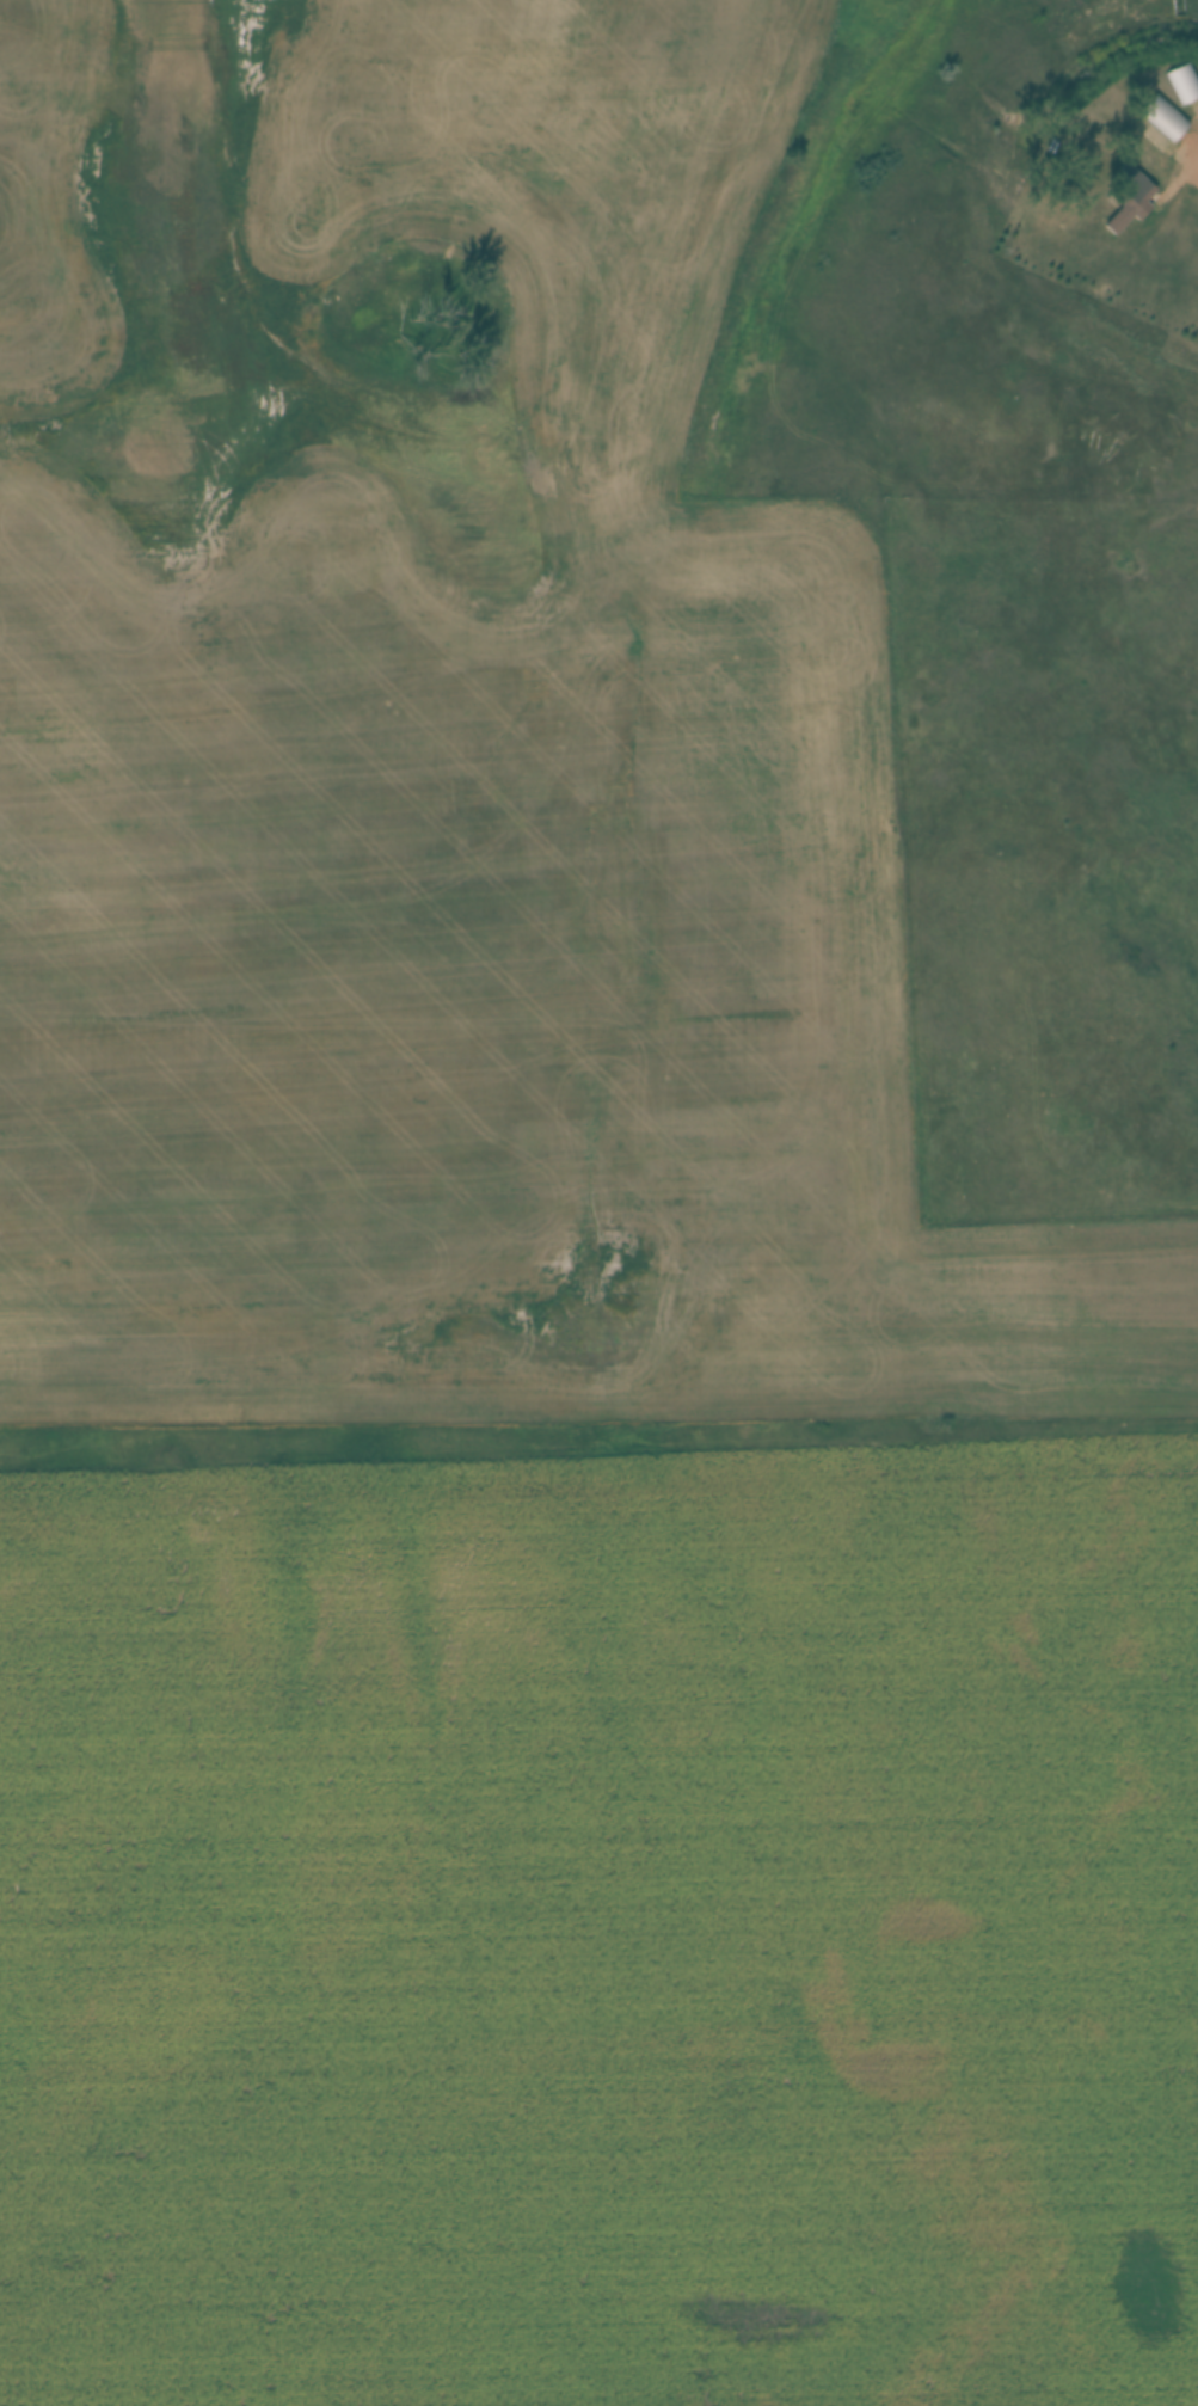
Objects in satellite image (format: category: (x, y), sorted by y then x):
building: (1186, 85)
building: (1168, 121)
building: (1129, 195)

